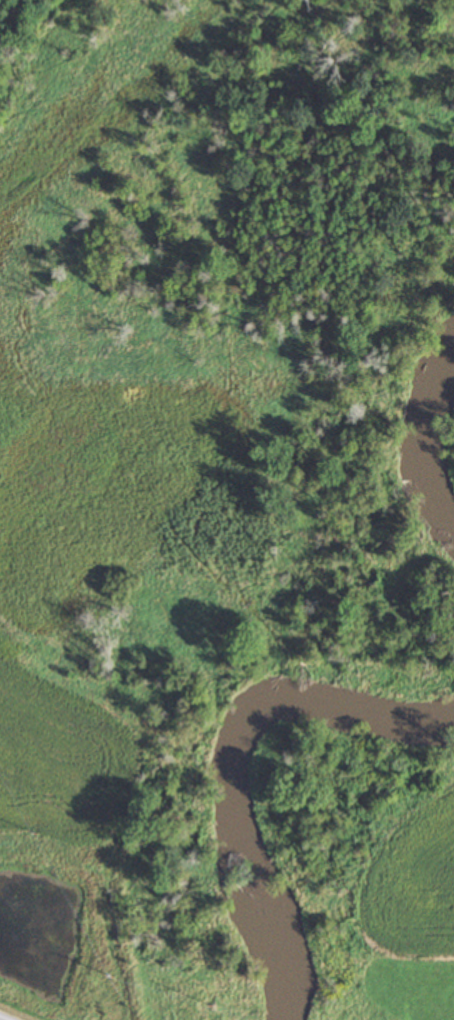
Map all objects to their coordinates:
river: (434, 446)
river: (249, 776)

